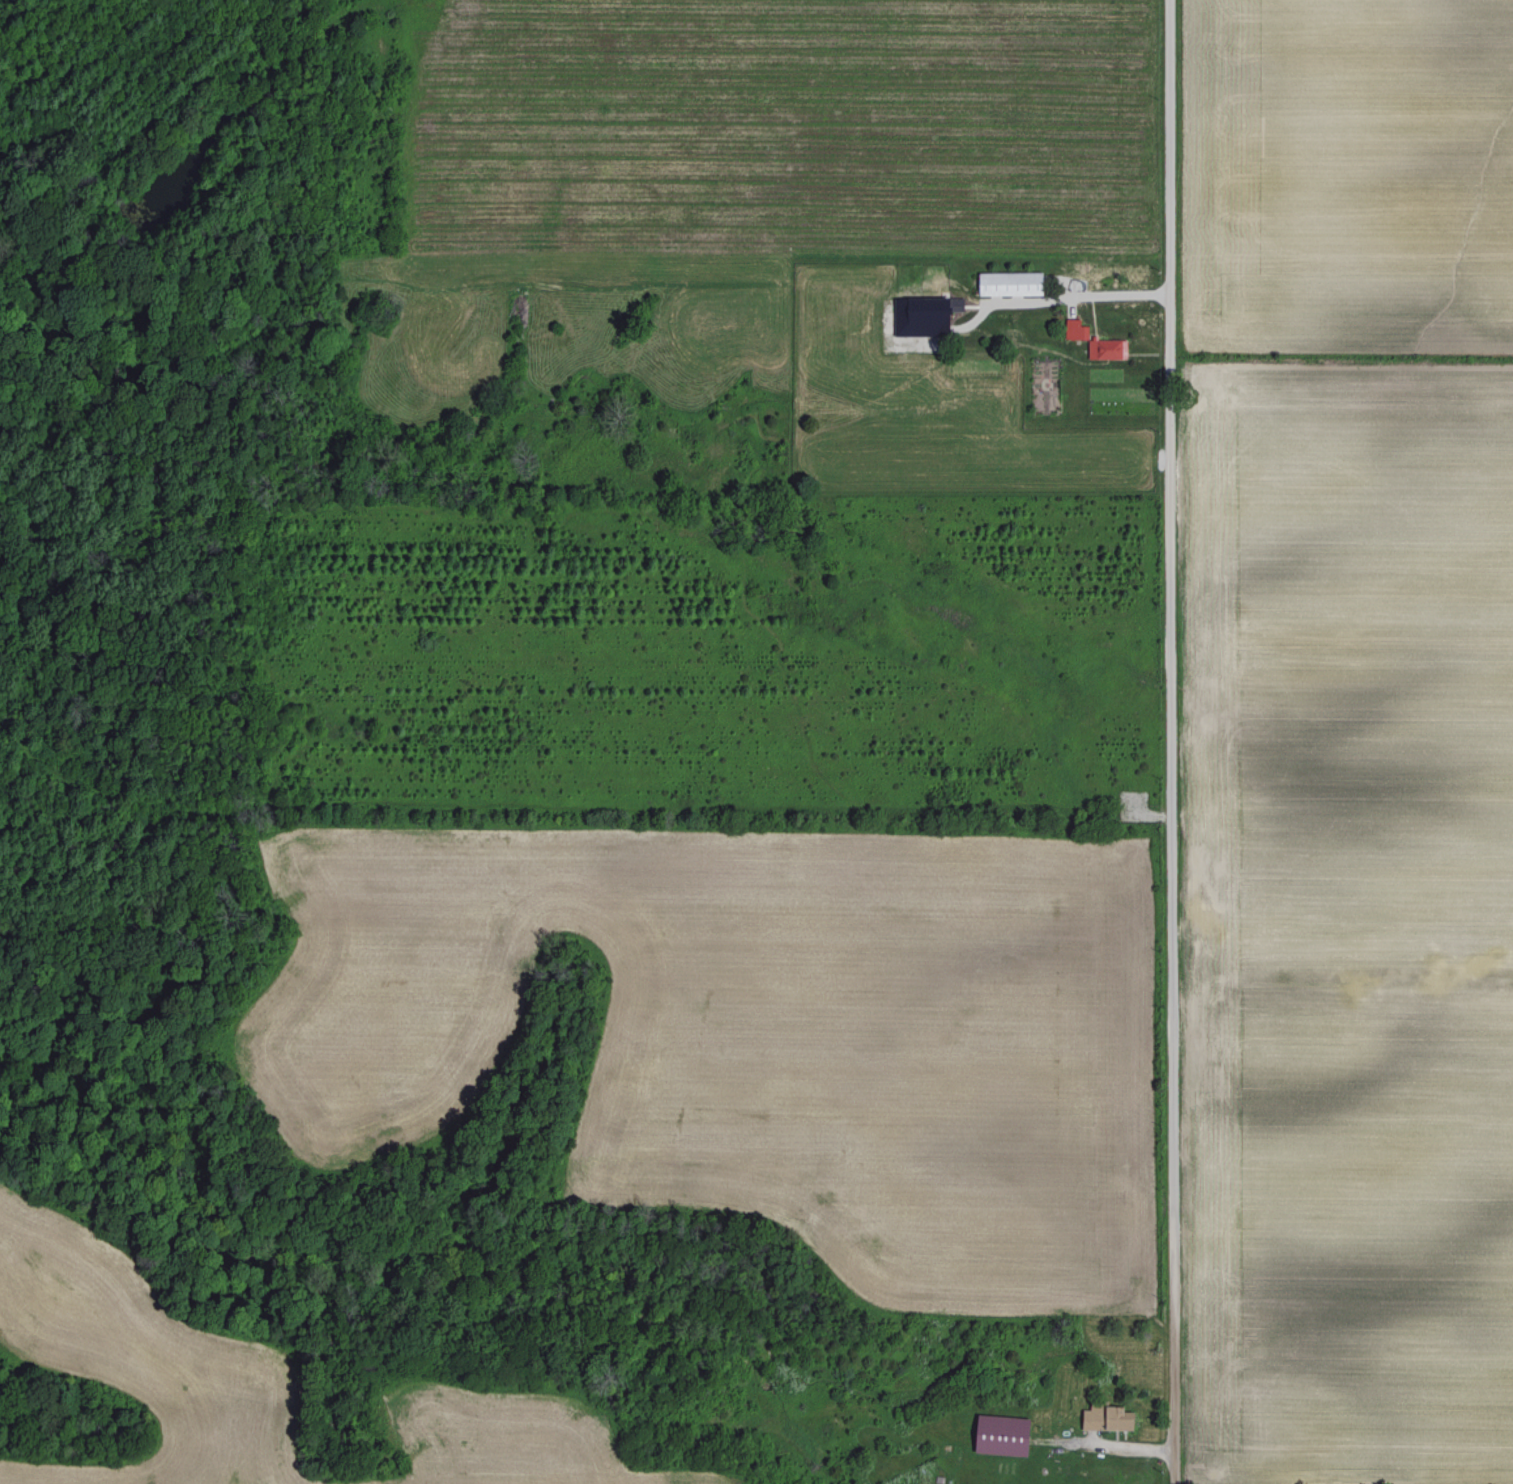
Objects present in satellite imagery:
building: (1007, 284)
road: (1071, 297)
building: (921, 316)
building: (1073, 330)
building: (1105, 349)
road: (1164, 741)
building: (1104, 1418)
building: (998, 1435)

